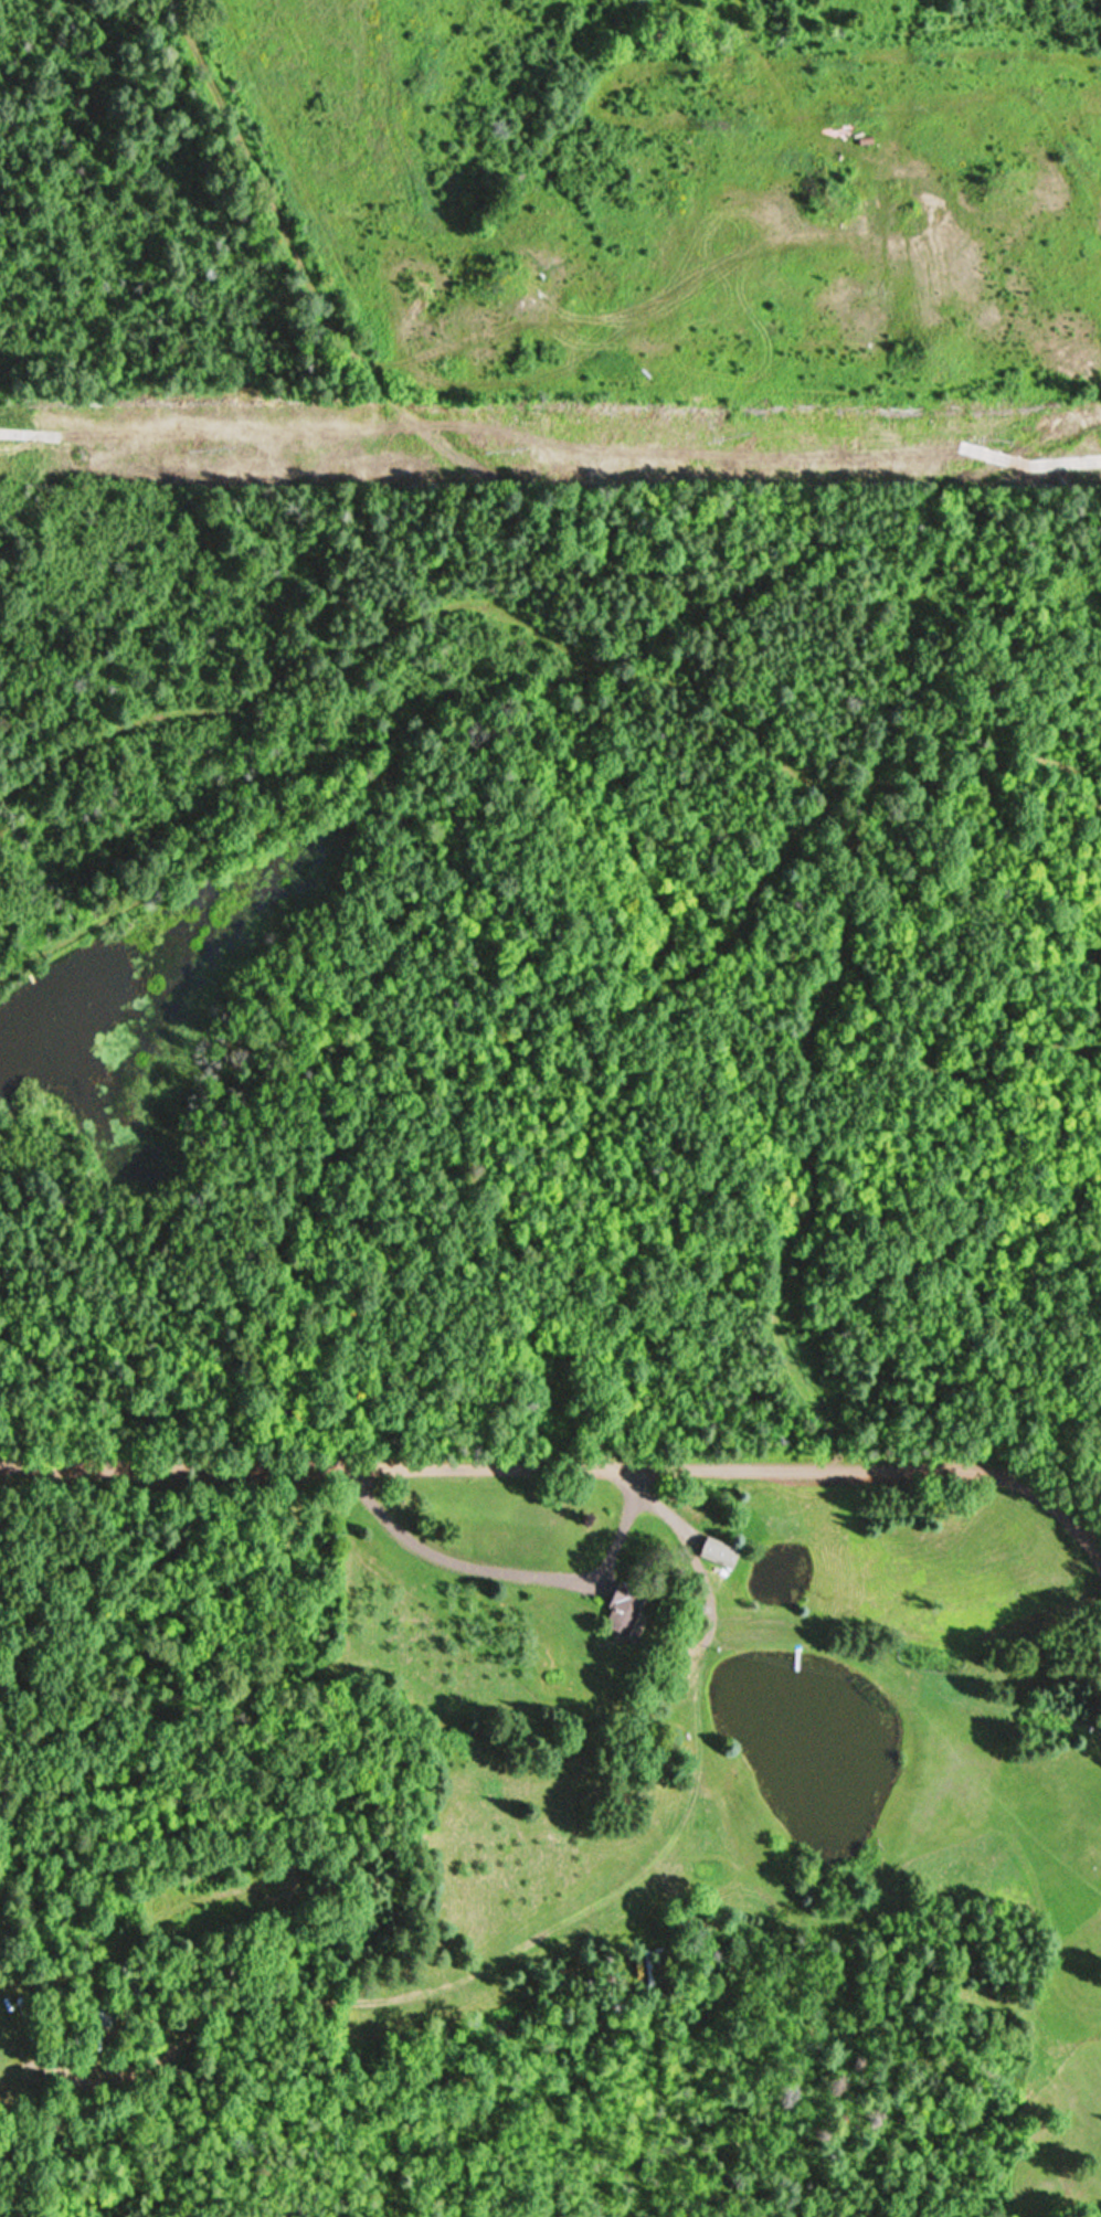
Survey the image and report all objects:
road: (590, 1471)

